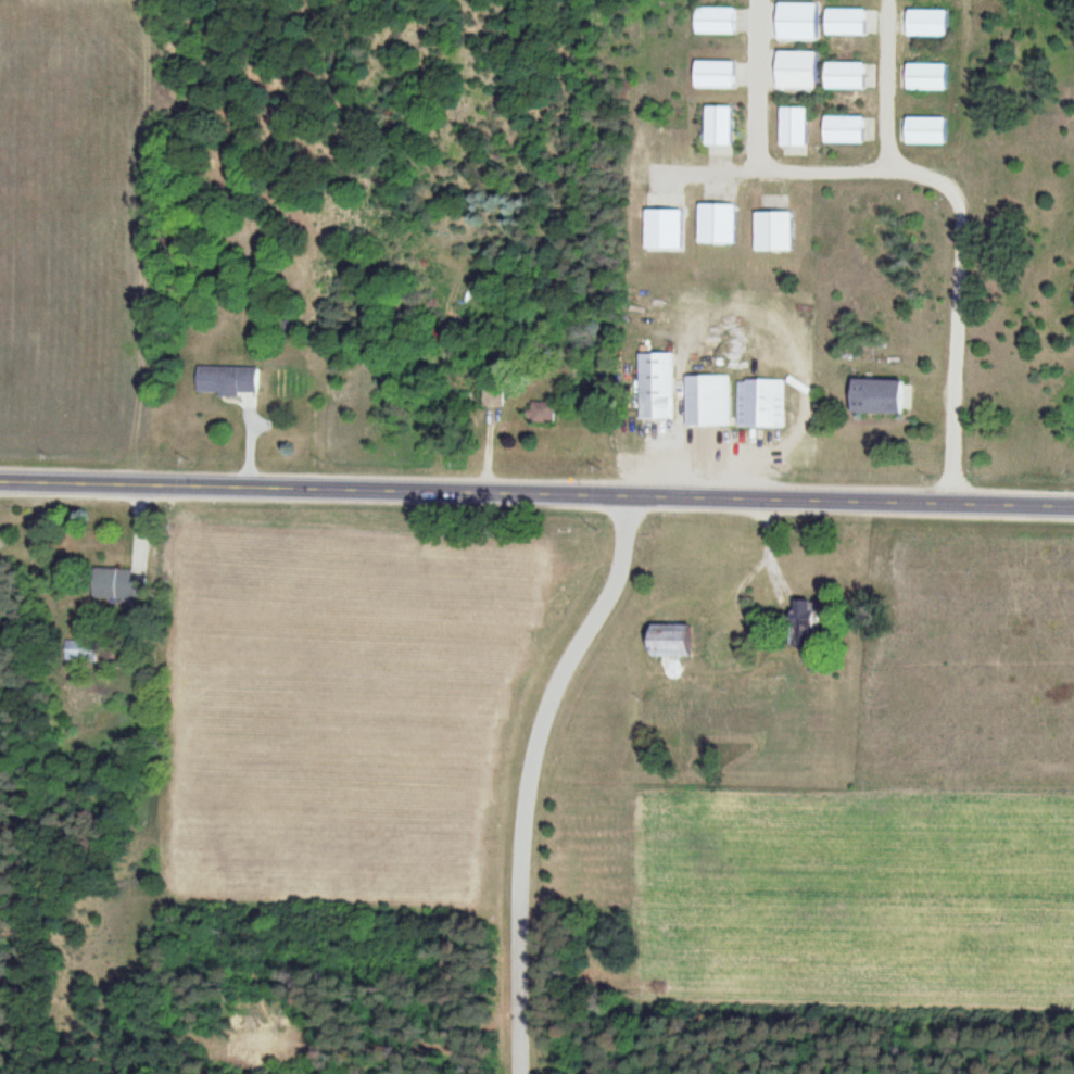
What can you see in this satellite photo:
building: (719, 22)
building: (796, 22)
building: (849, 23)
building: (924, 24)
building: (801, 71)
building: (719, 76)
building: (848, 77)
building: (924, 77)
building: (721, 127)
building: (796, 127)
building: (847, 130)
building: (927, 131)
building: (720, 225)
building: (667, 230)
building: (776, 232)
building: (229, 381)
building: (656, 387)
building: (884, 397)
building: (494, 399)
building: (707, 401)
building: (760, 404)
building: (543, 412)
road: (536, 494)
building: (119, 584)
building: (809, 614)
building: (678, 641)
building: (728, 646)
road: (529, 774)

